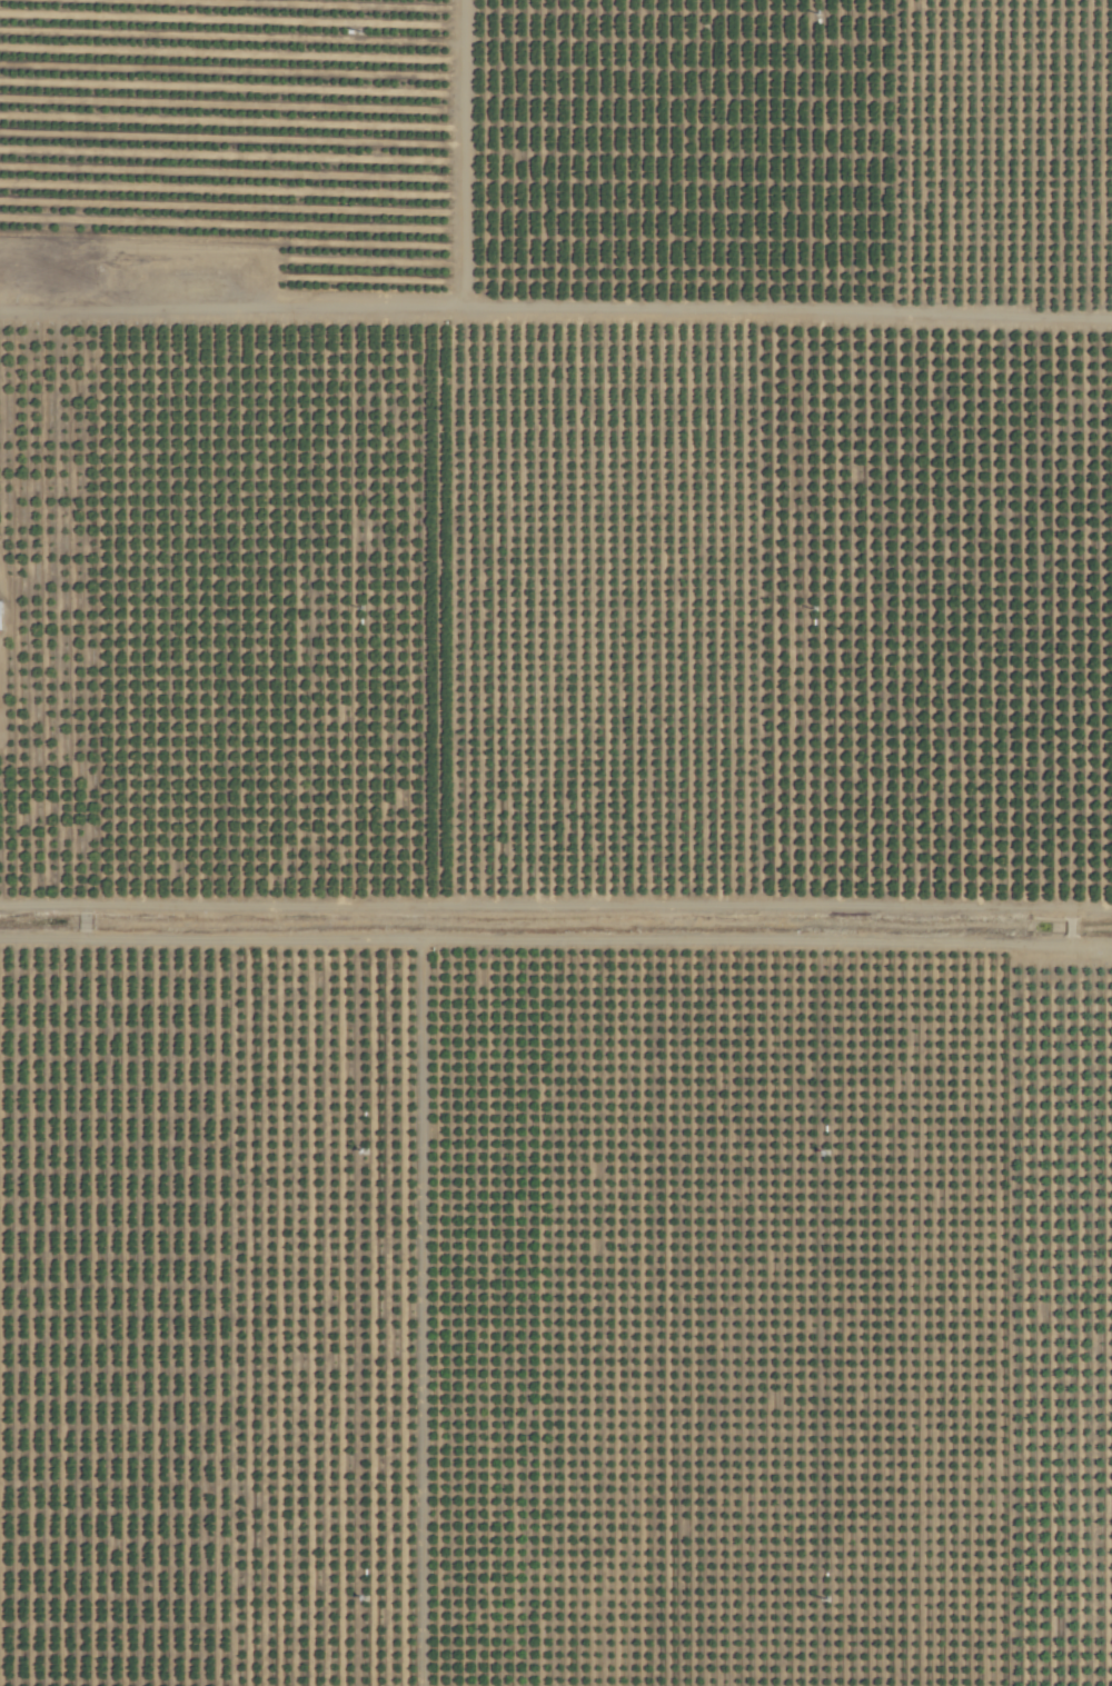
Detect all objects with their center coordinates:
building: (2, 616)
crop: (556, 842)

